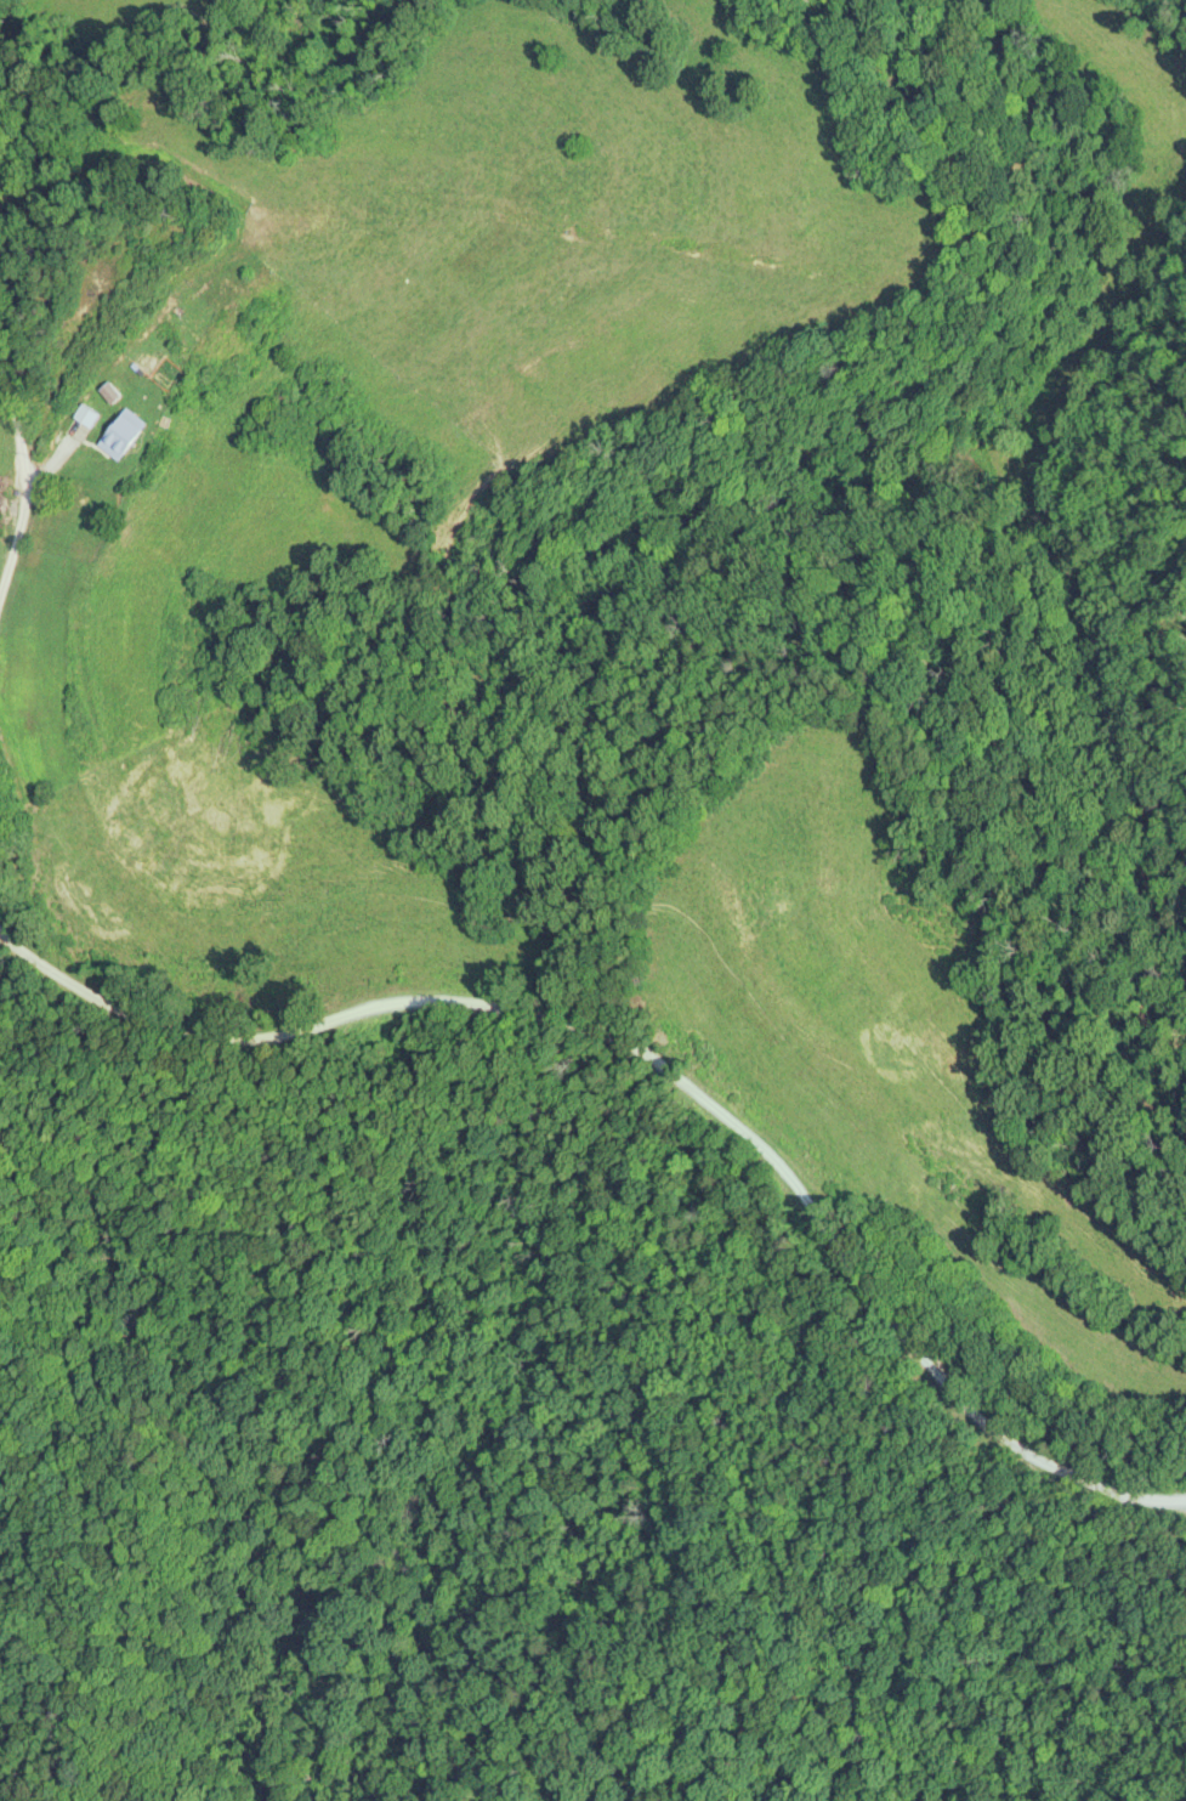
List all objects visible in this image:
building: (1181, 141)
building: (232, 272)
building: (108, 392)
building: (85, 415)
building: (118, 436)
road: (23, 482)
road: (114, 990)
road: (768, 1137)

